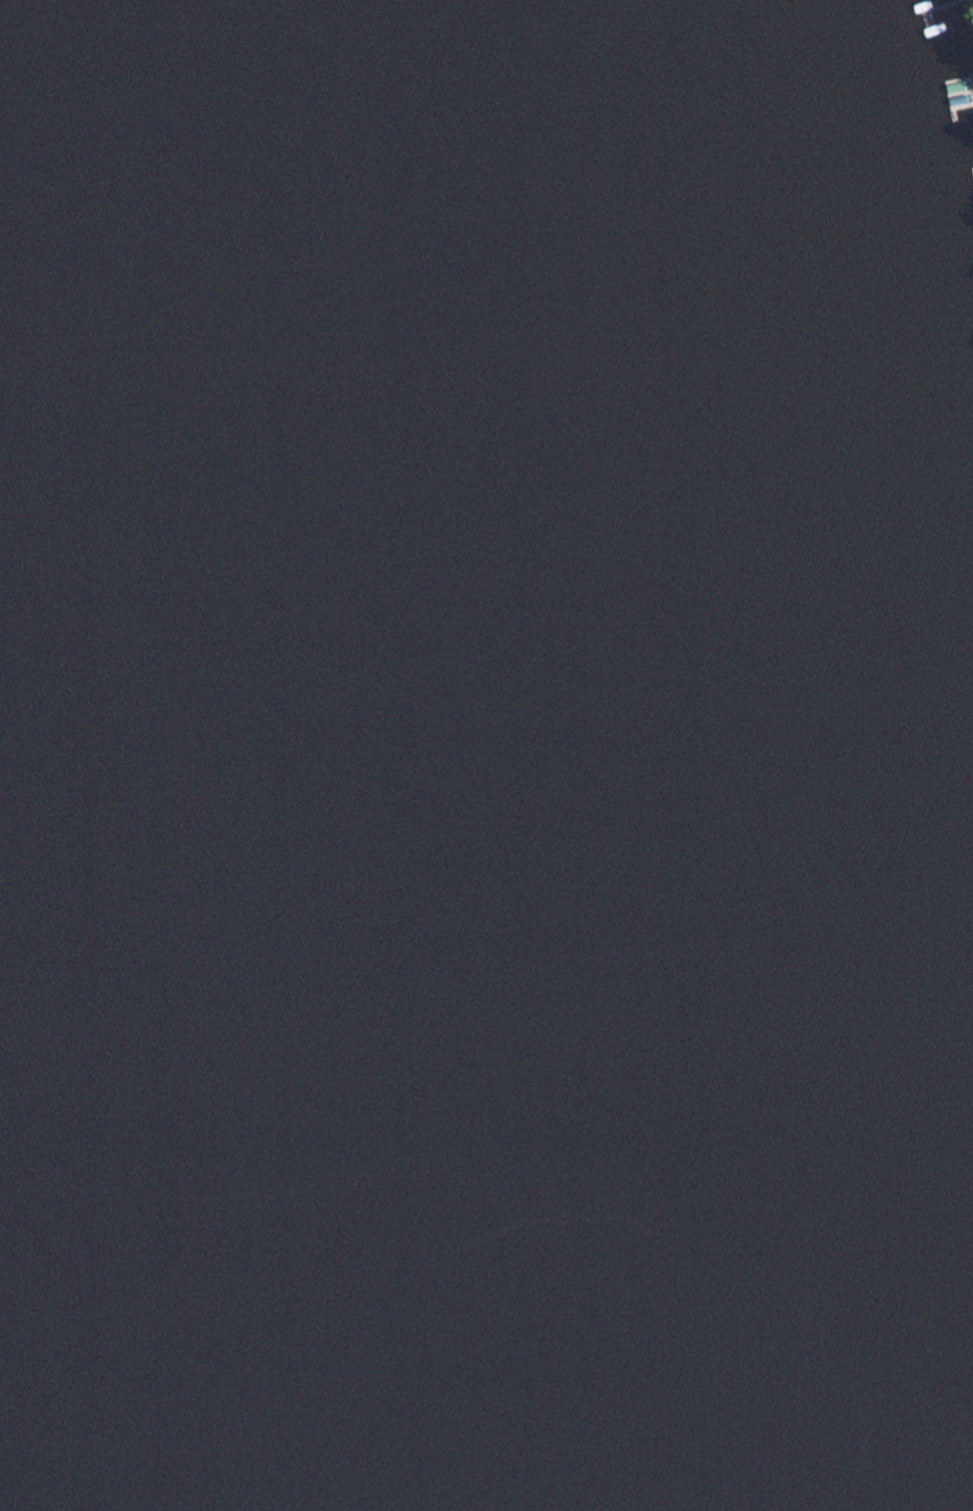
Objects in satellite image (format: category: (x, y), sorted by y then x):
river: (422, 924)
river: (900, 1297)

